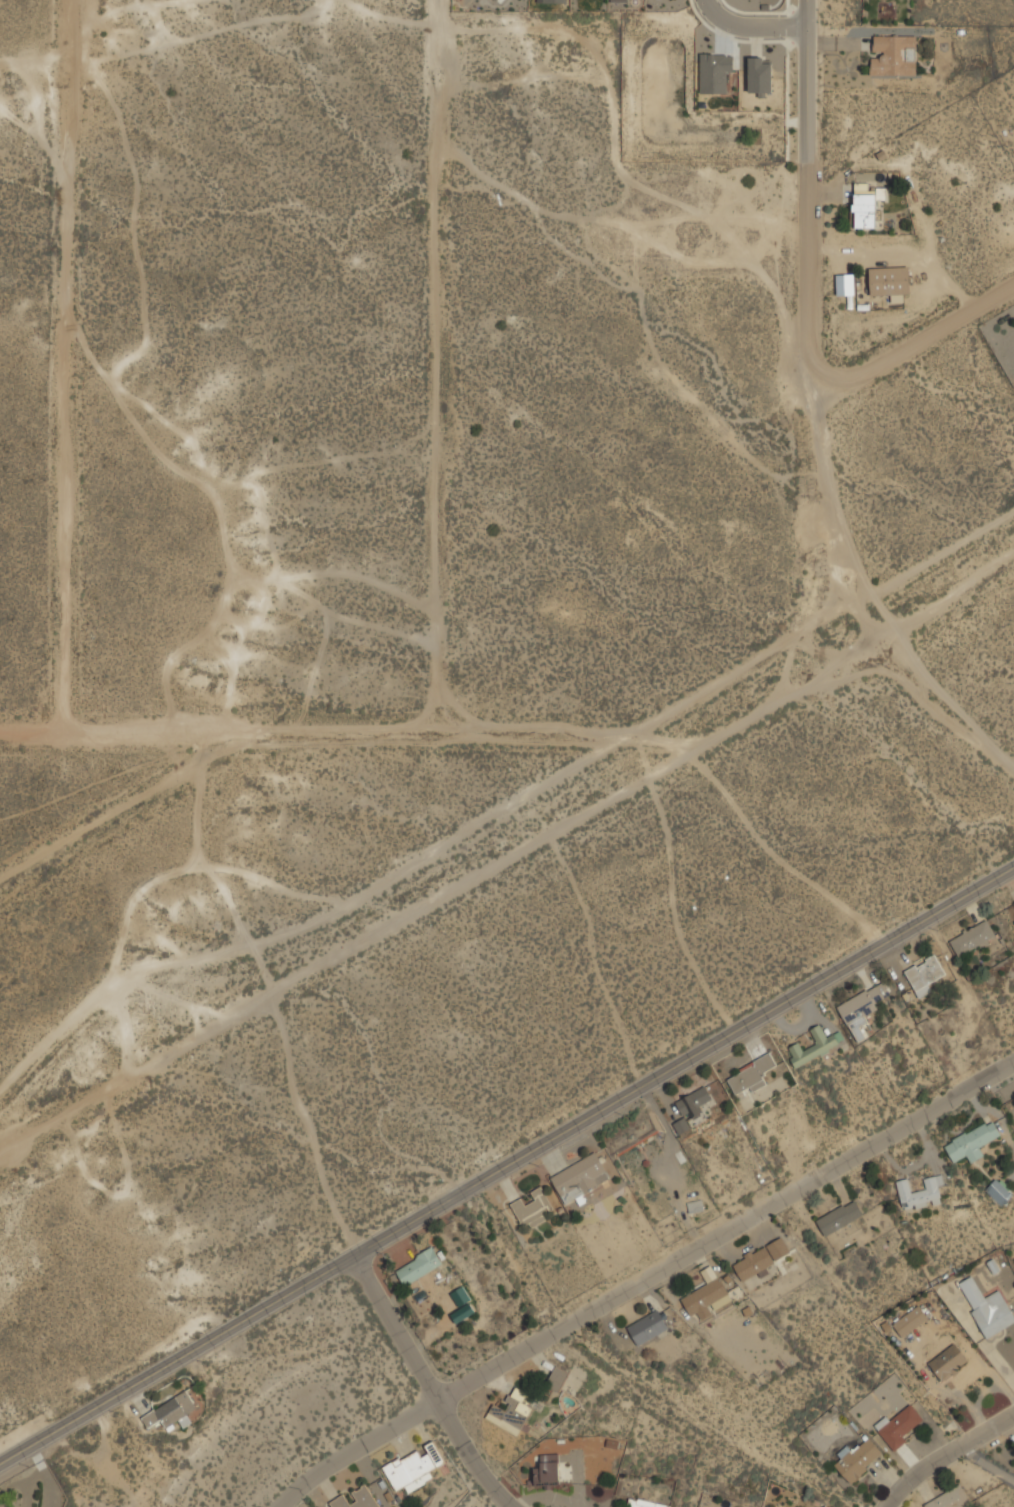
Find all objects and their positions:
building: (495, 0)
building: (554, 0)
building: (619, 0)
road: (751, 26)
building: (894, 54)
building: (714, 70)
building: (760, 75)
building: (867, 204)
building: (890, 280)
road: (810, 332)
road: (914, 339)
road: (64, 365)
road: (434, 365)
road: (344, 731)
road: (126, 804)
road: (505, 856)
building: (1013, 902)
building: (1013, 920)
building: (973, 938)
building: (925, 974)
building: (863, 1007)
building: (816, 1044)
building: (751, 1074)
building: (695, 1101)
road: (316, 1122)
building: (681, 1125)
building: (972, 1141)
road: (506, 1165)
building: (580, 1177)
building: (999, 1190)
building: (921, 1193)
building: (695, 1205)
building: (533, 1208)
building: (840, 1216)
building: (762, 1258)
building: (419, 1265)
road: (645, 1277)
building: (707, 1294)
building: (460, 1296)
building: (987, 1306)
building: (462, 1312)
building: (910, 1320)
road: (396, 1327)
building: (648, 1327)
building: (948, 1357)
building: (556, 1379)
building: (171, 1411)
building: (512, 1411)
building: (901, 1425)
road: (470, 1456)
road: (947, 1456)
building: (858, 1458)
building: (413, 1467)
building: (550, 1468)
building: (949, 1498)
building: (356, 1499)
building: (644, 1503)

